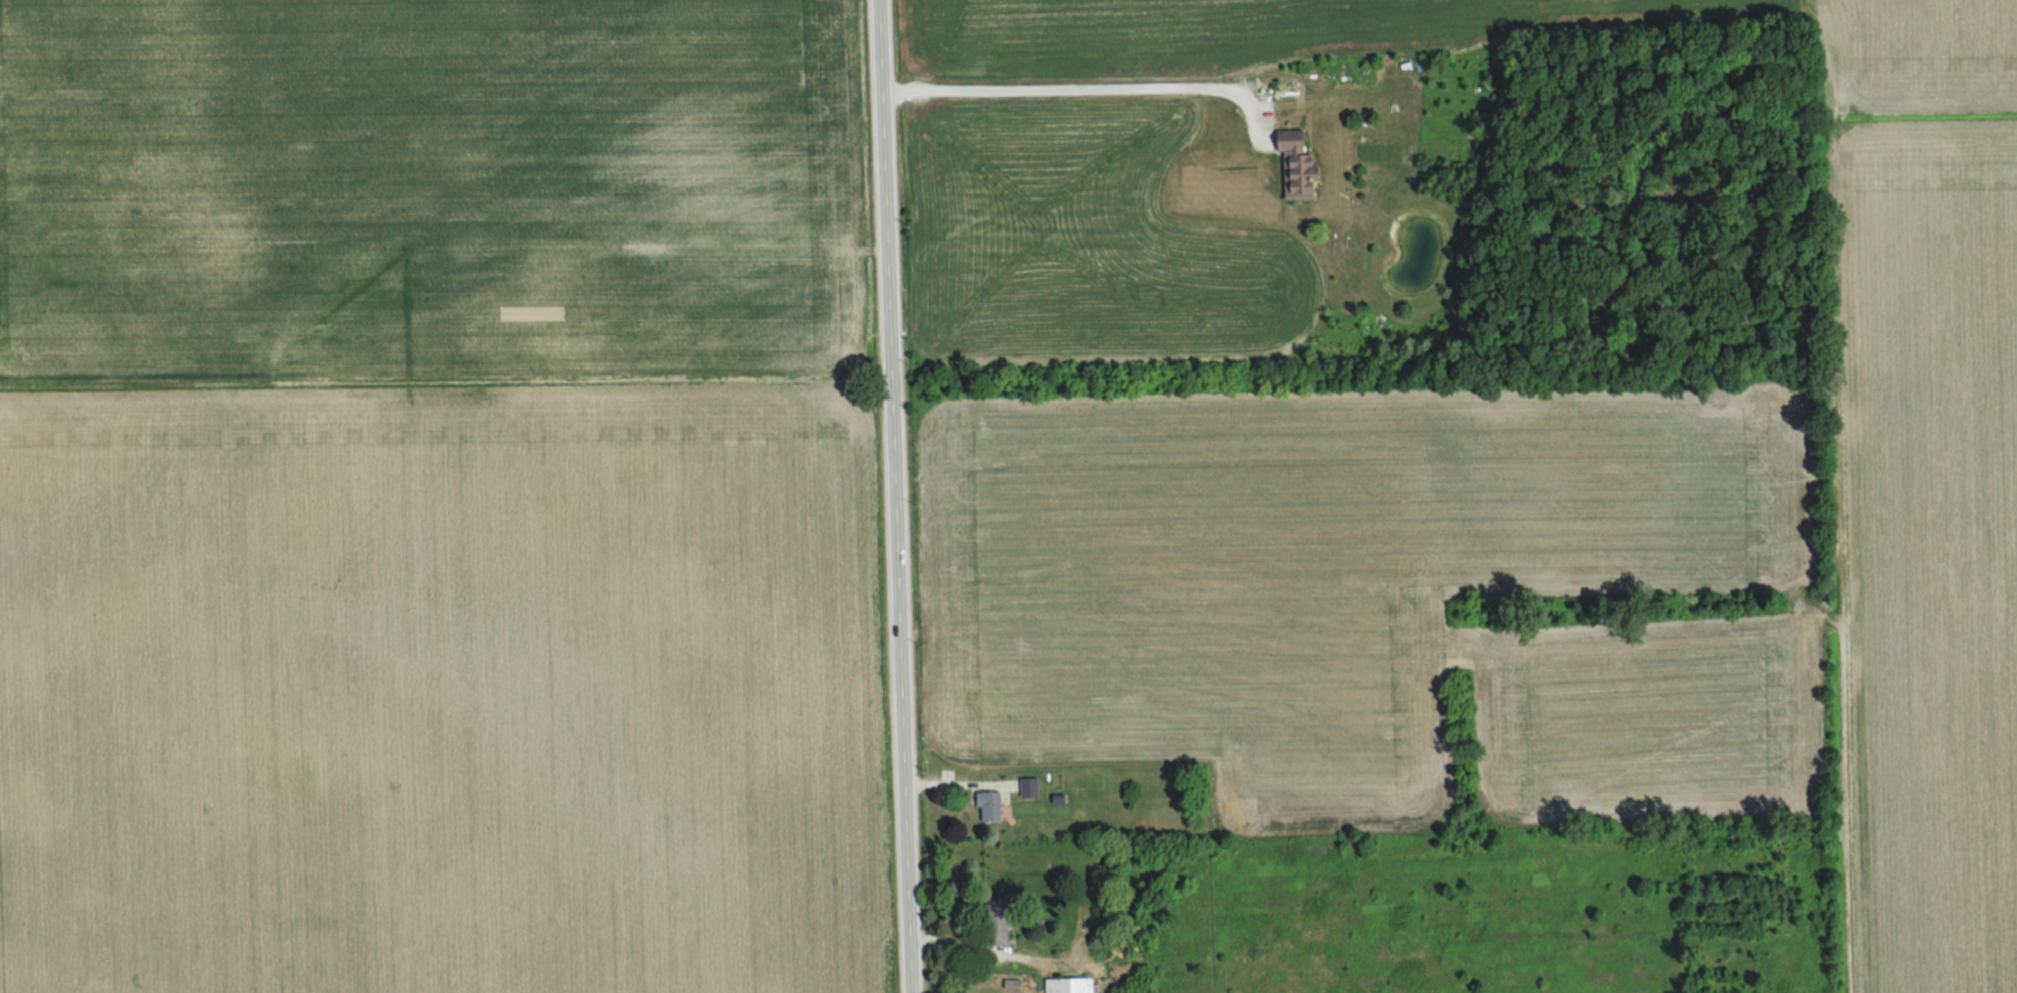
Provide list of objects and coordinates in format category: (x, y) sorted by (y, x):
crop: (1464, 37)
road: (1083, 91)
crop: (433, 186)
crop: (1084, 242)
road: (893, 496)
crop: (1929, 550)
crop: (1374, 595)
crop: (442, 691)
road: (956, 785)
building: (1032, 788)
building: (993, 805)
building: (1073, 986)

